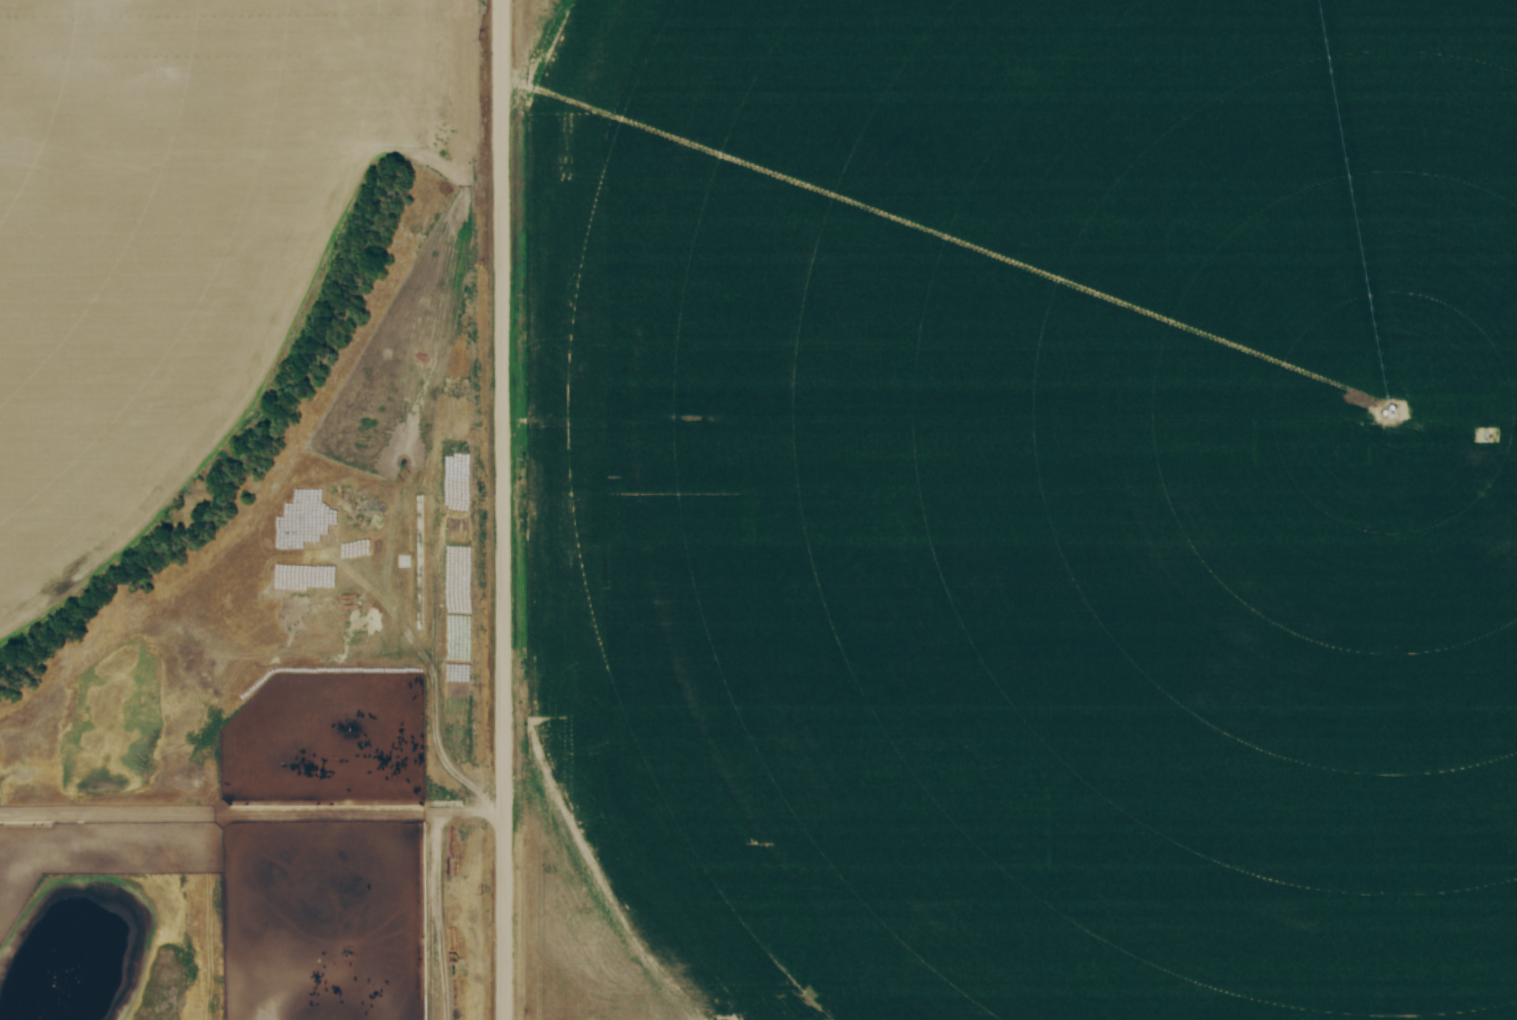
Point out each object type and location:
road: (504, 510)

